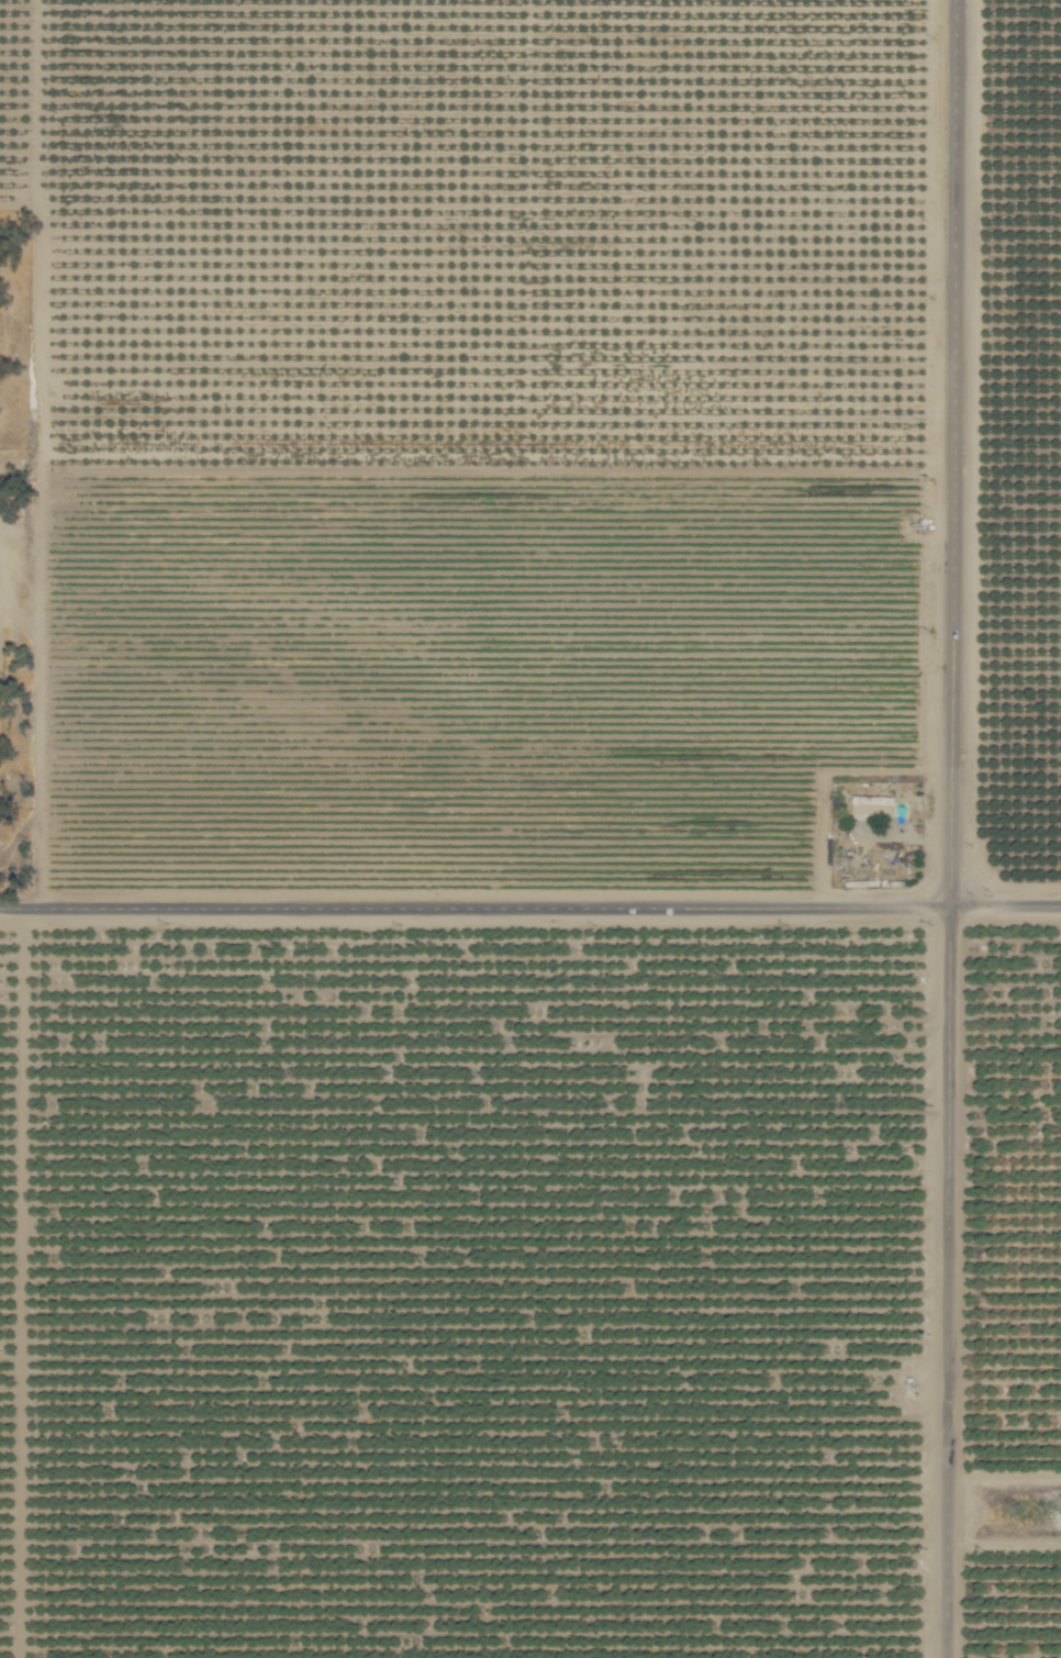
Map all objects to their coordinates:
road: (959, 453)
road: (38, 457)
building: (875, 800)
crop: (530, 828)
road: (1008, 905)
road: (478, 910)
road: (952, 1281)

